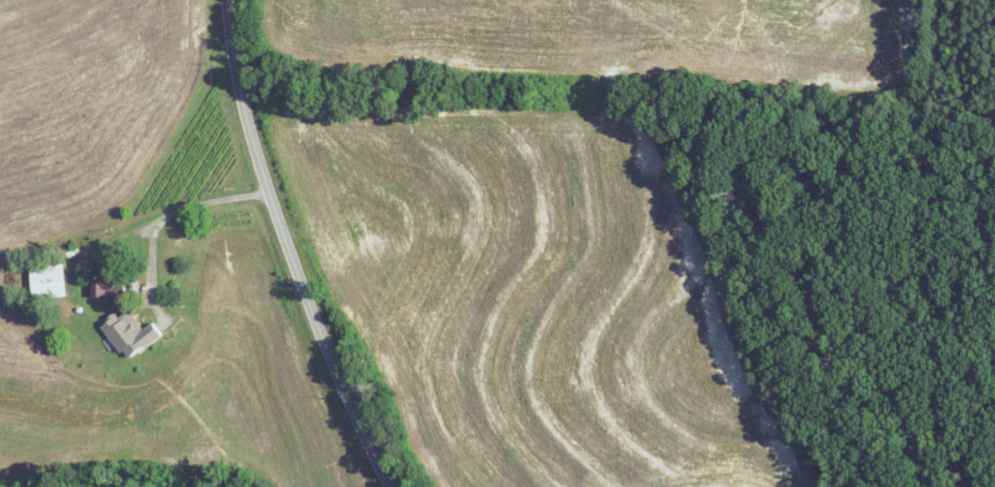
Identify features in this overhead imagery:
road: (169, 205)
road: (290, 249)
building: (105, 288)

